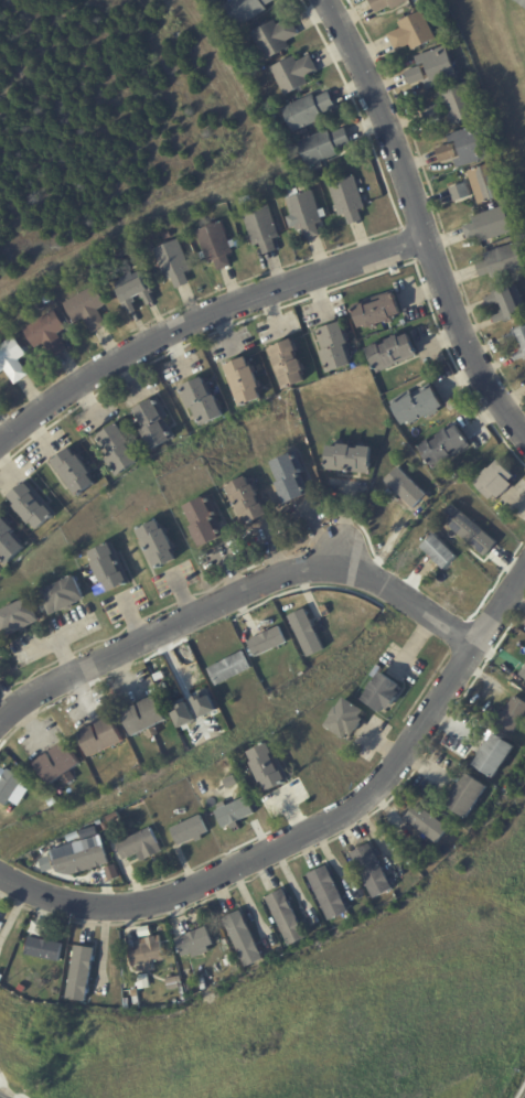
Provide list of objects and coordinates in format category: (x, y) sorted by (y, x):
building: (411, 1)
building: (521, 2)
building: (386, 3)
building: (247, 9)
building: (414, 32)
building: (277, 36)
building: (439, 65)
building: (296, 72)
building: (417, 75)
building: (460, 103)
building: (309, 109)
building: (432, 112)
building: (324, 144)
building: (471, 146)
building: (447, 152)
building: (489, 182)
building: (462, 191)
building: (349, 198)
building: (306, 214)
road: (415, 217)
building: (493, 225)
building: (264, 227)
building: (216, 244)
building: (503, 261)
building: (174, 262)
building: (98, 267)
building: (396, 269)
building: (136, 293)
building: (508, 303)
building: (88, 308)
building: (379, 312)
road: (199, 314)
building: (49, 332)
building: (517, 335)
building: (335, 347)
building: (394, 353)
building: (519, 355)
building: (13, 359)
building: (289, 364)
building: (245, 381)
building: (203, 401)
building: (419, 403)
building: (157, 422)
building: (448, 448)
building: (119, 450)
building: (350, 459)
building: (75, 472)
building: (292, 477)
building: (496, 481)
building: (405, 486)
building: (247, 502)
building: (33, 505)
building: (206, 520)
building: (471, 532)
building: (9, 542)
building: (158, 545)
building: (110, 568)
building: (64, 595)
road: (237, 598)
building: (20, 617)
building: (306, 632)
building: (266, 639)
building: (229, 666)
building: (523, 672)
building: (1, 677)
building: (383, 692)
building: (512, 712)
building: (147, 718)
building: (347, 718)
building: (104, 739)
building: (495, 754)
building: (61, 765)
building: (270, 766)
building: (228, 778)
building: (9, 784)
building: (469, 795)
building: (234, 809)
building: (113, 817)
building: (426, 822)
building: (106, 826)
road: (315, 828)
building: (191, 830)
building: (81, 831)
building: (141, 846)
building: (78, 855)
building: (372, 870)
building: (330, 891)
building: (208, 912)
building: (288, 916)
building: (37, 927)
building: (245, 937)
building: (196, 941)
building: (45, 949)
building: (147, 951)
building: (229, 961)
building: (82, 971)
building: (12, 979)
building: (143, 981)
building: (178, 983)
building: (47, 990)
building: (136, 992)
building: (127, 1002)

